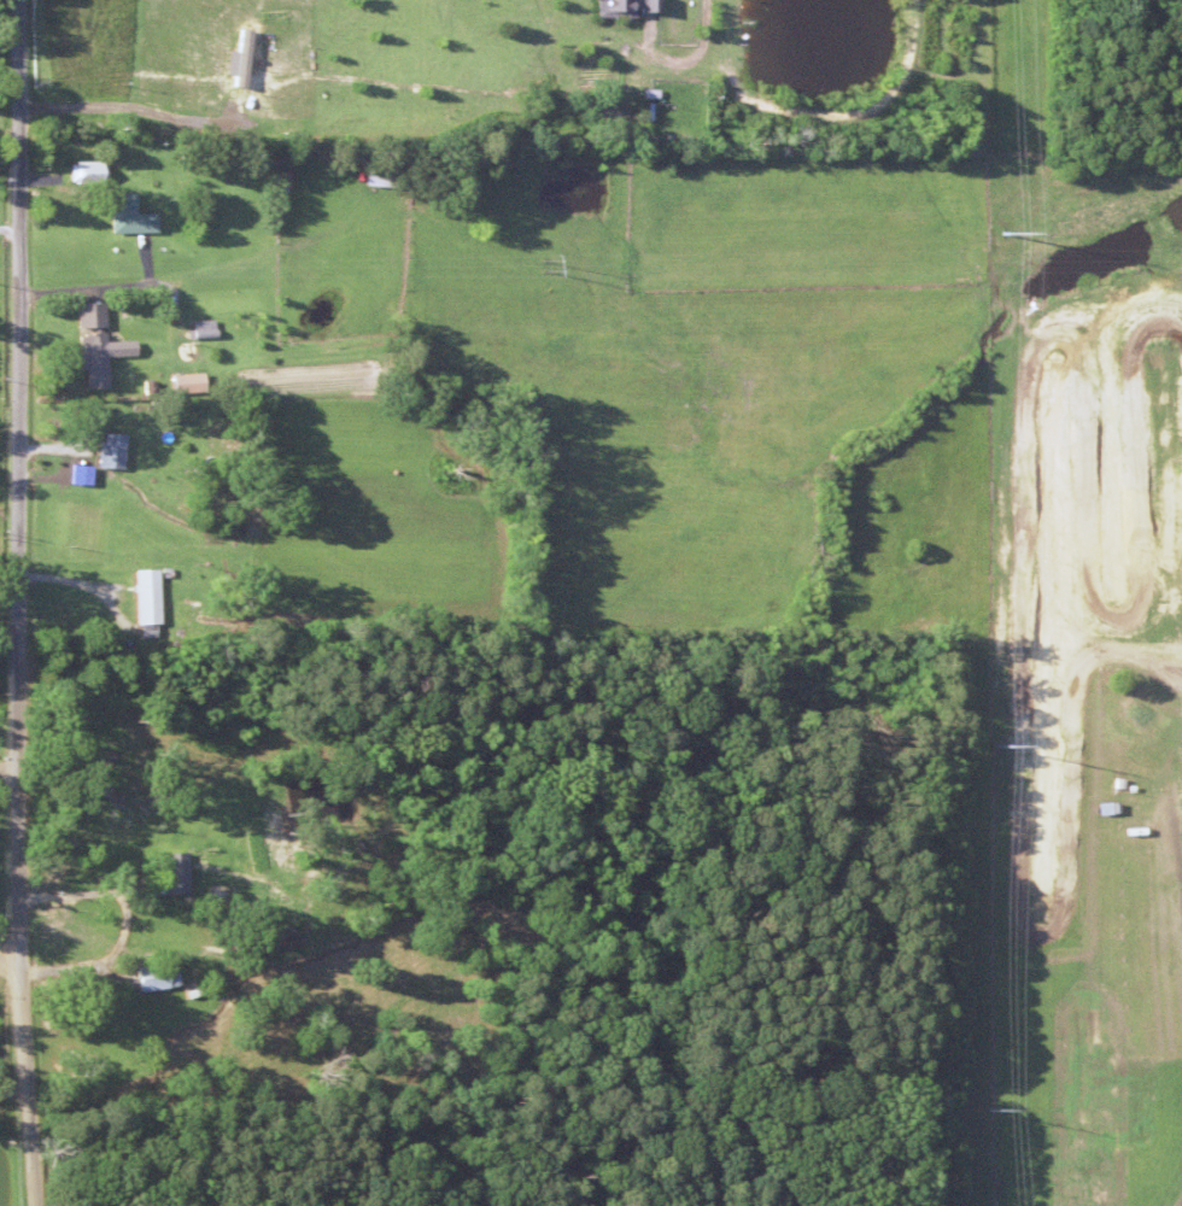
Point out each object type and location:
building: (619, 7)
building: (84, 172)
building: (375, 176)
building: (125, 216)
building: (218, 333)
building: (93, 361)
building: (182, 384)
building: (106, 450)
building: (142, 596)
road: (21, 603)
building: (170, 873)
building: (93, 954)
building: (153, 977)

